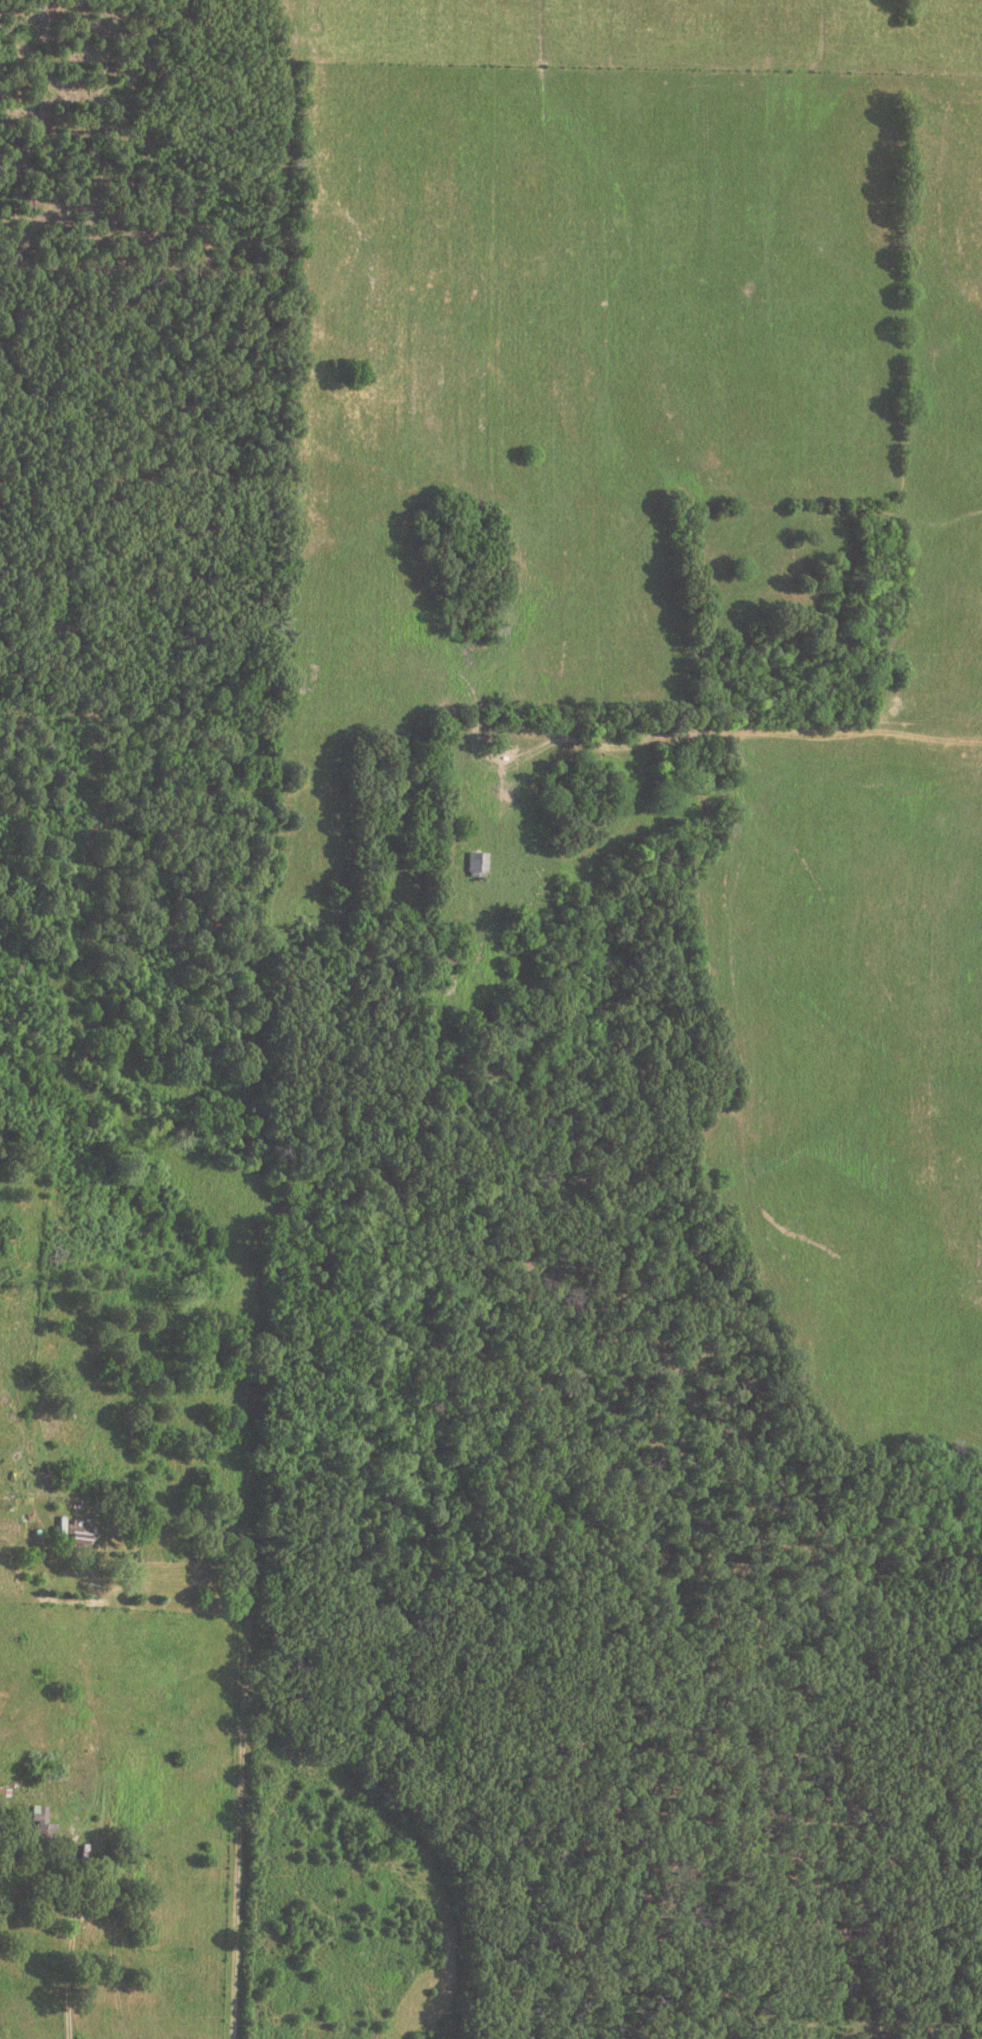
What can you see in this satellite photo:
road: (778, 730)
building: (477, 864)
building: (78, 1533)
road: (256, 1627)
building: (42, 1821)
road: (70, 1950)

